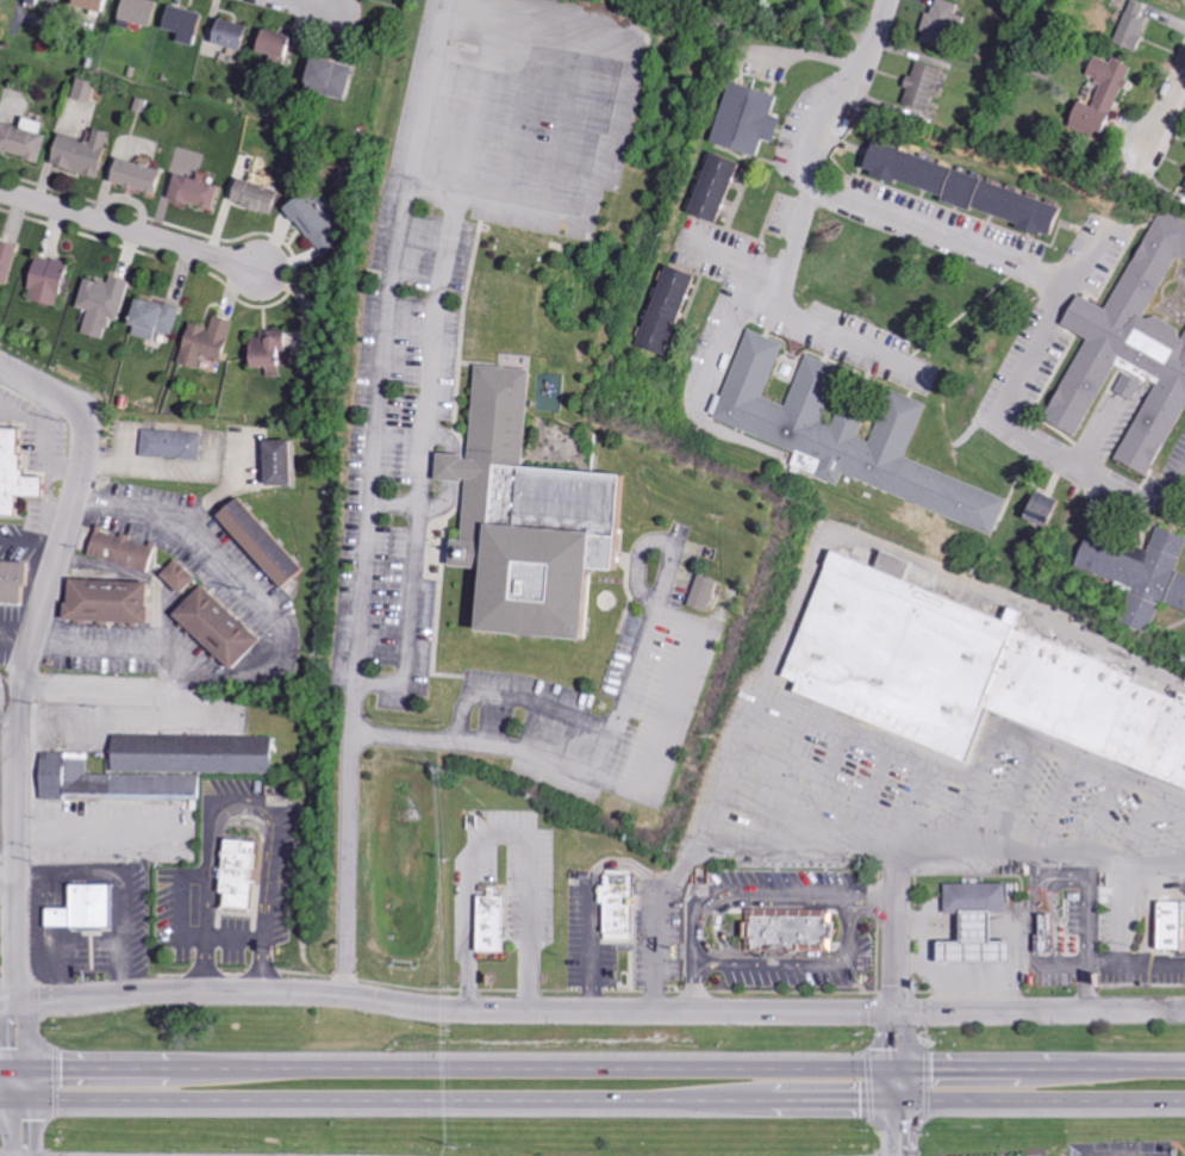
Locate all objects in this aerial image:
building: (63, 0)
building: (39, 1)
building: (102, 4)
road: (323, 7)
building: (146, 11)
building: (941, 21)
building: (191, 23)
building: (1129, 26)
building: (237, 33)
building: (285, 42)
building: (337, 77)
building: (919, 87)
building: (91, 89)
road: (849, 95)
building: (1097, 97)
road: (1167, 108)
building: (744, 119)
building: (29, 138)
building: (91, 153)
building: (145, 175)
building: (711, 187)
building: (955, 187)
building: (201, 189)
building: (1184, 189)
building: (261, 195)
building: (311, 219)
road: (131, 229)
building: (8, 261)
road: (746, 263)
building: (52, 280)
building: (106, 303)
building: (666, 310)
building: (158, 318)
road: (800, 318)
parking lot: (439, 322)
road: (728, 332)
road: (1046, 334)
building: (201, 342)
building: (1134, 343)
building: (263, 353)
building: (848, 435)
building: (168, 445)
road: (423, 445)
building: (270, 462)
road: (150, 464)
building: (10, 472)
road: (369, 497)
building: (1037, 508)
building: (523, 521)
building: (254, 539)
road: (31, 540)
building: (118, 551)
road: (933, 566)
building: (175, 576)
building: (1139, 576)
building: (10, 582)
building: (698, 592)
building: (102, 601)
building: (212, 627)
road: (17, 639)
road: (280, 645)
building: (968, 673)
road: (11, 686)
road: (20, 688)
road: (124, 690)
parking lot: (580, 692)
road: (516, 695)
road: (812, 708)
building: (151, 765)
road: (588, 776)
parking lot: (923, 800)
road: (241, 804)
road: (105, 827)
road: (503, 832)
road: (942, 857)
road: (622, 864)
road: (8, 866)
building: (233, 872)
road: (121, 883)
road: (741, 894)
building: (972, 899)
building: (616, 905)
building: (82, 908)
road: (1089, 912)
building: (485, 922)
building: (1044, 926)
building: (1170, 926)
building: (787, 931)
road: (235, 933)
road: (42, 938)
road: (1122, 944)
building: (969, 945)
building: (1043, 945)
road: (1009, 962)
road: (1087, 987)
road: (990, 988)
road: (592, 1013)
road: (592, 1068)
road: (19, 1083)
road: (592, 1101)
road: (900, 1111)
road: (19, 1127)

